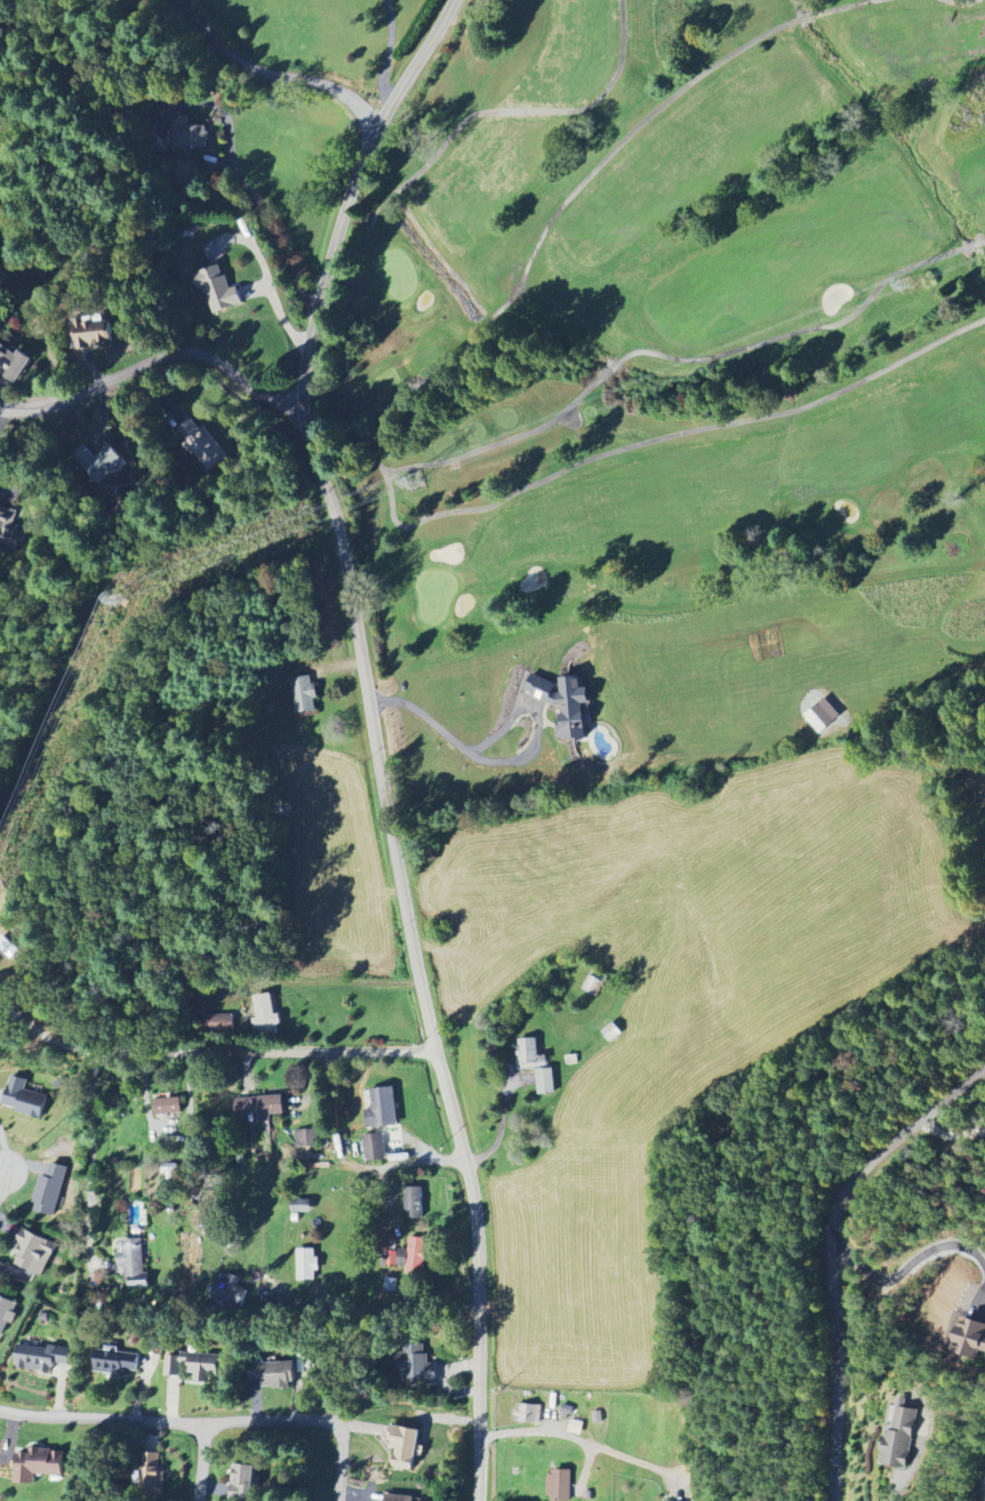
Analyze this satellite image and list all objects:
road: (5, 39)
road: (388, 56)
road: (269, 82)
building: (187, 135)
power tower: (904, 287)
building: (219, 291)
park: (668, 312)
road: (26, 330)
building: (91, 335)
road: (154, 360)
building: (13, 363)
road: (2, 415)
building: (196, 439)
building: (99, 463)
power tower: (415, 482)
building: (10, 529)
power tower: (118, 600)
building: (304, 695)
building: (564, 704)
road: (374, 736)
road: (508, 764)
road: (336, 982)
building: (265, 1016)
road: (212, 1051)
building: (534, 1064)
building: (22, 1098)
building: (167, 1106)
building: (258, 1108)
building: (381, 1109)
road: (501, 1126)
road: (951, 1133)
building: (307, 1139)
building: (374, 1147)
road: (91, 1161)
road: (3, 1177)
building: (49, 1190)
building: (413, 1203)
building: (300, 1206)
building: (33, 1252)
road: (839, 1253)
building: (416, 1256)
building: (133, 1263)
building: (306, 1264)
road: (908, 1266)
building: (228, 1291)
road: (378, 1311)
building: (5, 1312)
building: (964, 1333)
building: (41, 1357)
building: (114, 1362)
building: (415, 1365)
building: (190, 1366)
building: (277, 1374)
building: (565, 1412)
building: (530, 1414)
road: (102, 1419)
road: (310, 1420)
building: (575, 1427)
building: (900, 1437)
road: (578, 1441)
building: (403, 1447)
road: (917, 1450)
road: (202, 1462)
building: (38, 1464)
building: (151, 1475)
building: (241, 1482)
building: (559, 1485)
building: (398, 1498)
building: (984, 1498)

